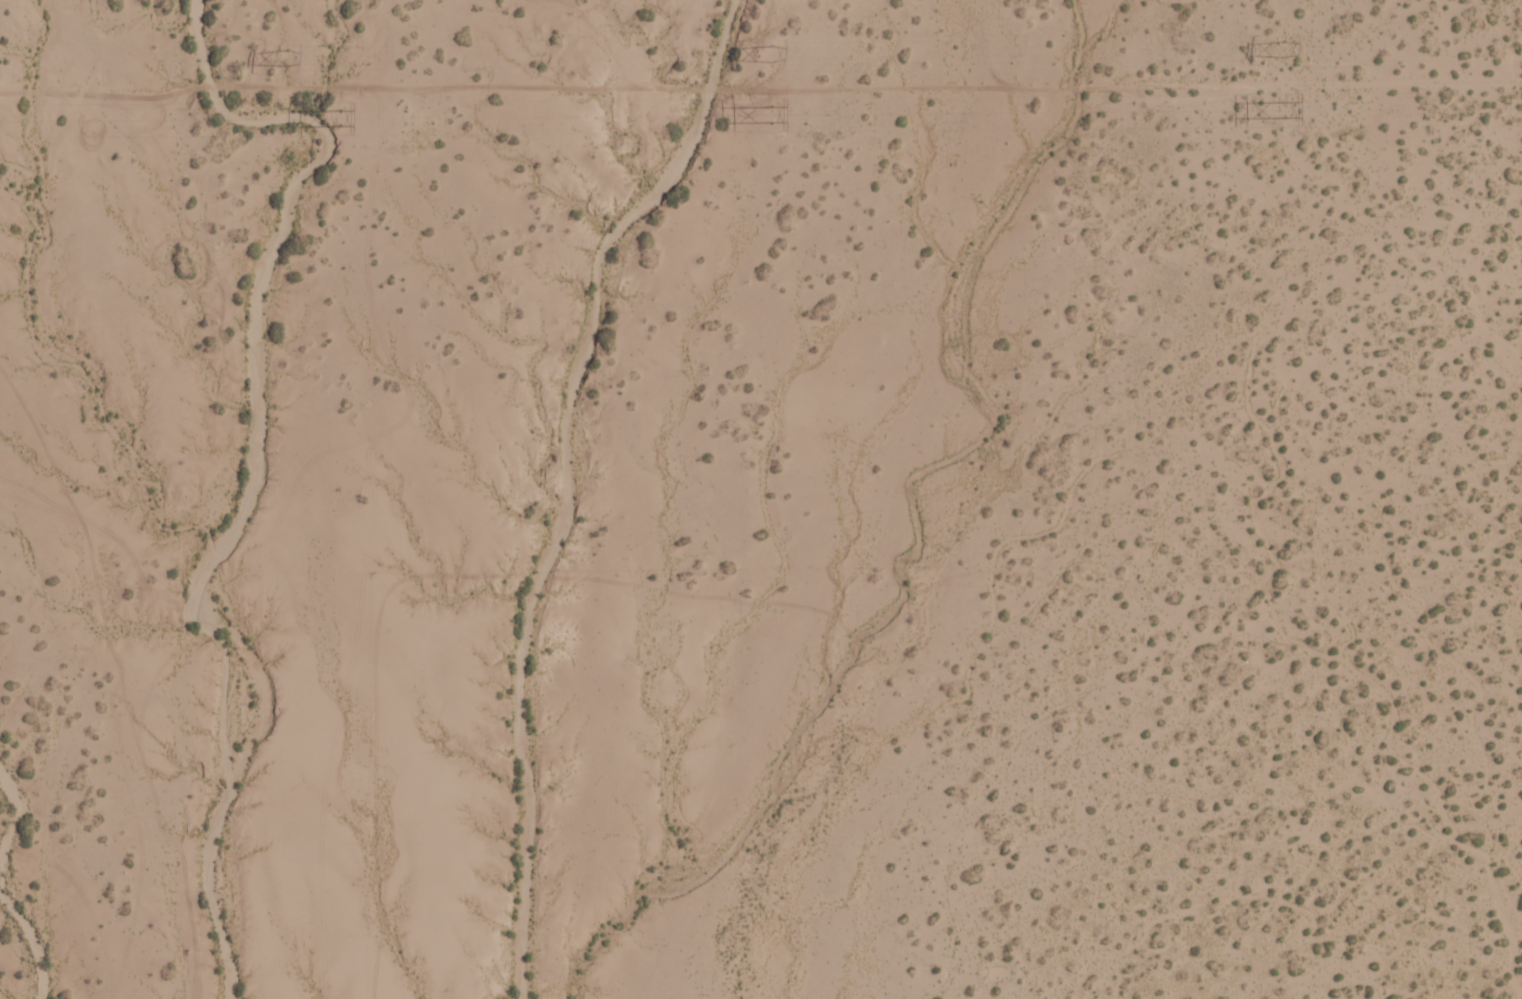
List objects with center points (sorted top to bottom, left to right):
power tower: (1280, 47)
power tower: (770, 53)
power tower: (284, 57)
power tower: (1281, 108)
power tower: (770, 115)
power tower: (337, 117)

